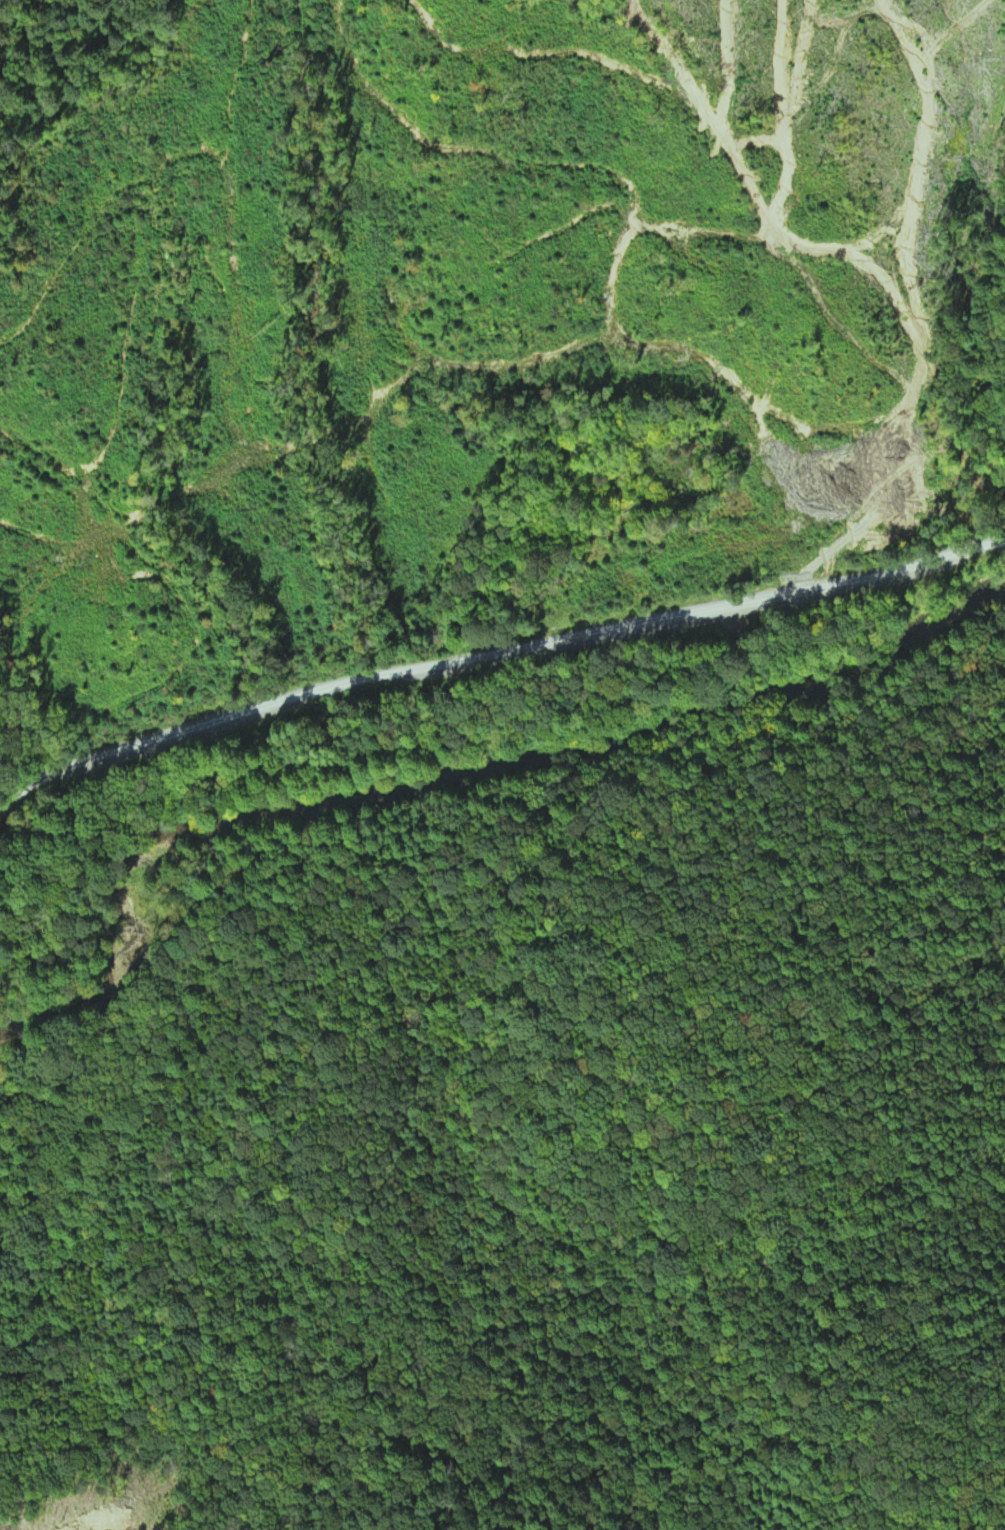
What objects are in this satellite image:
road: (489, 654)

